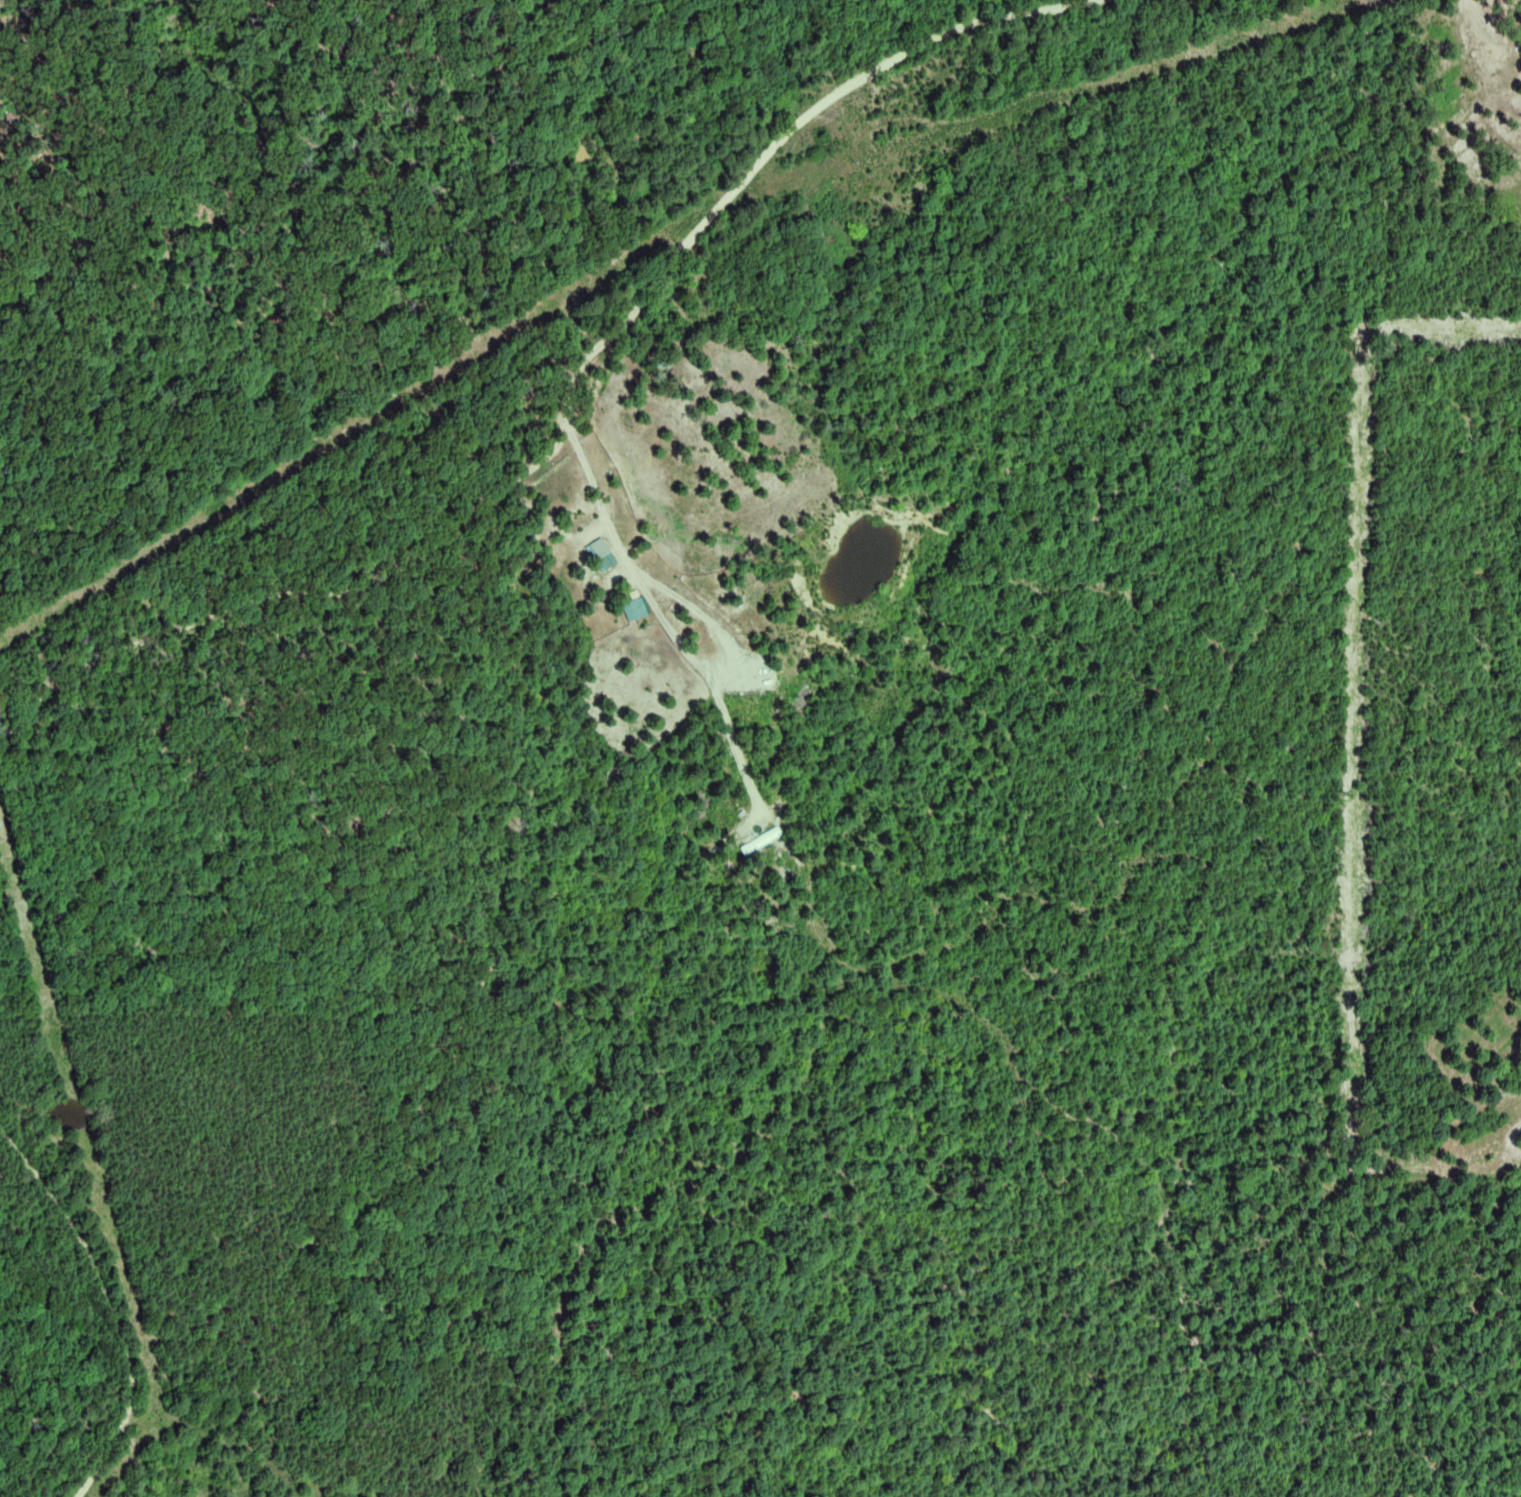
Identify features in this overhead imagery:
road: (571, 408)
road: (107, 1307)

